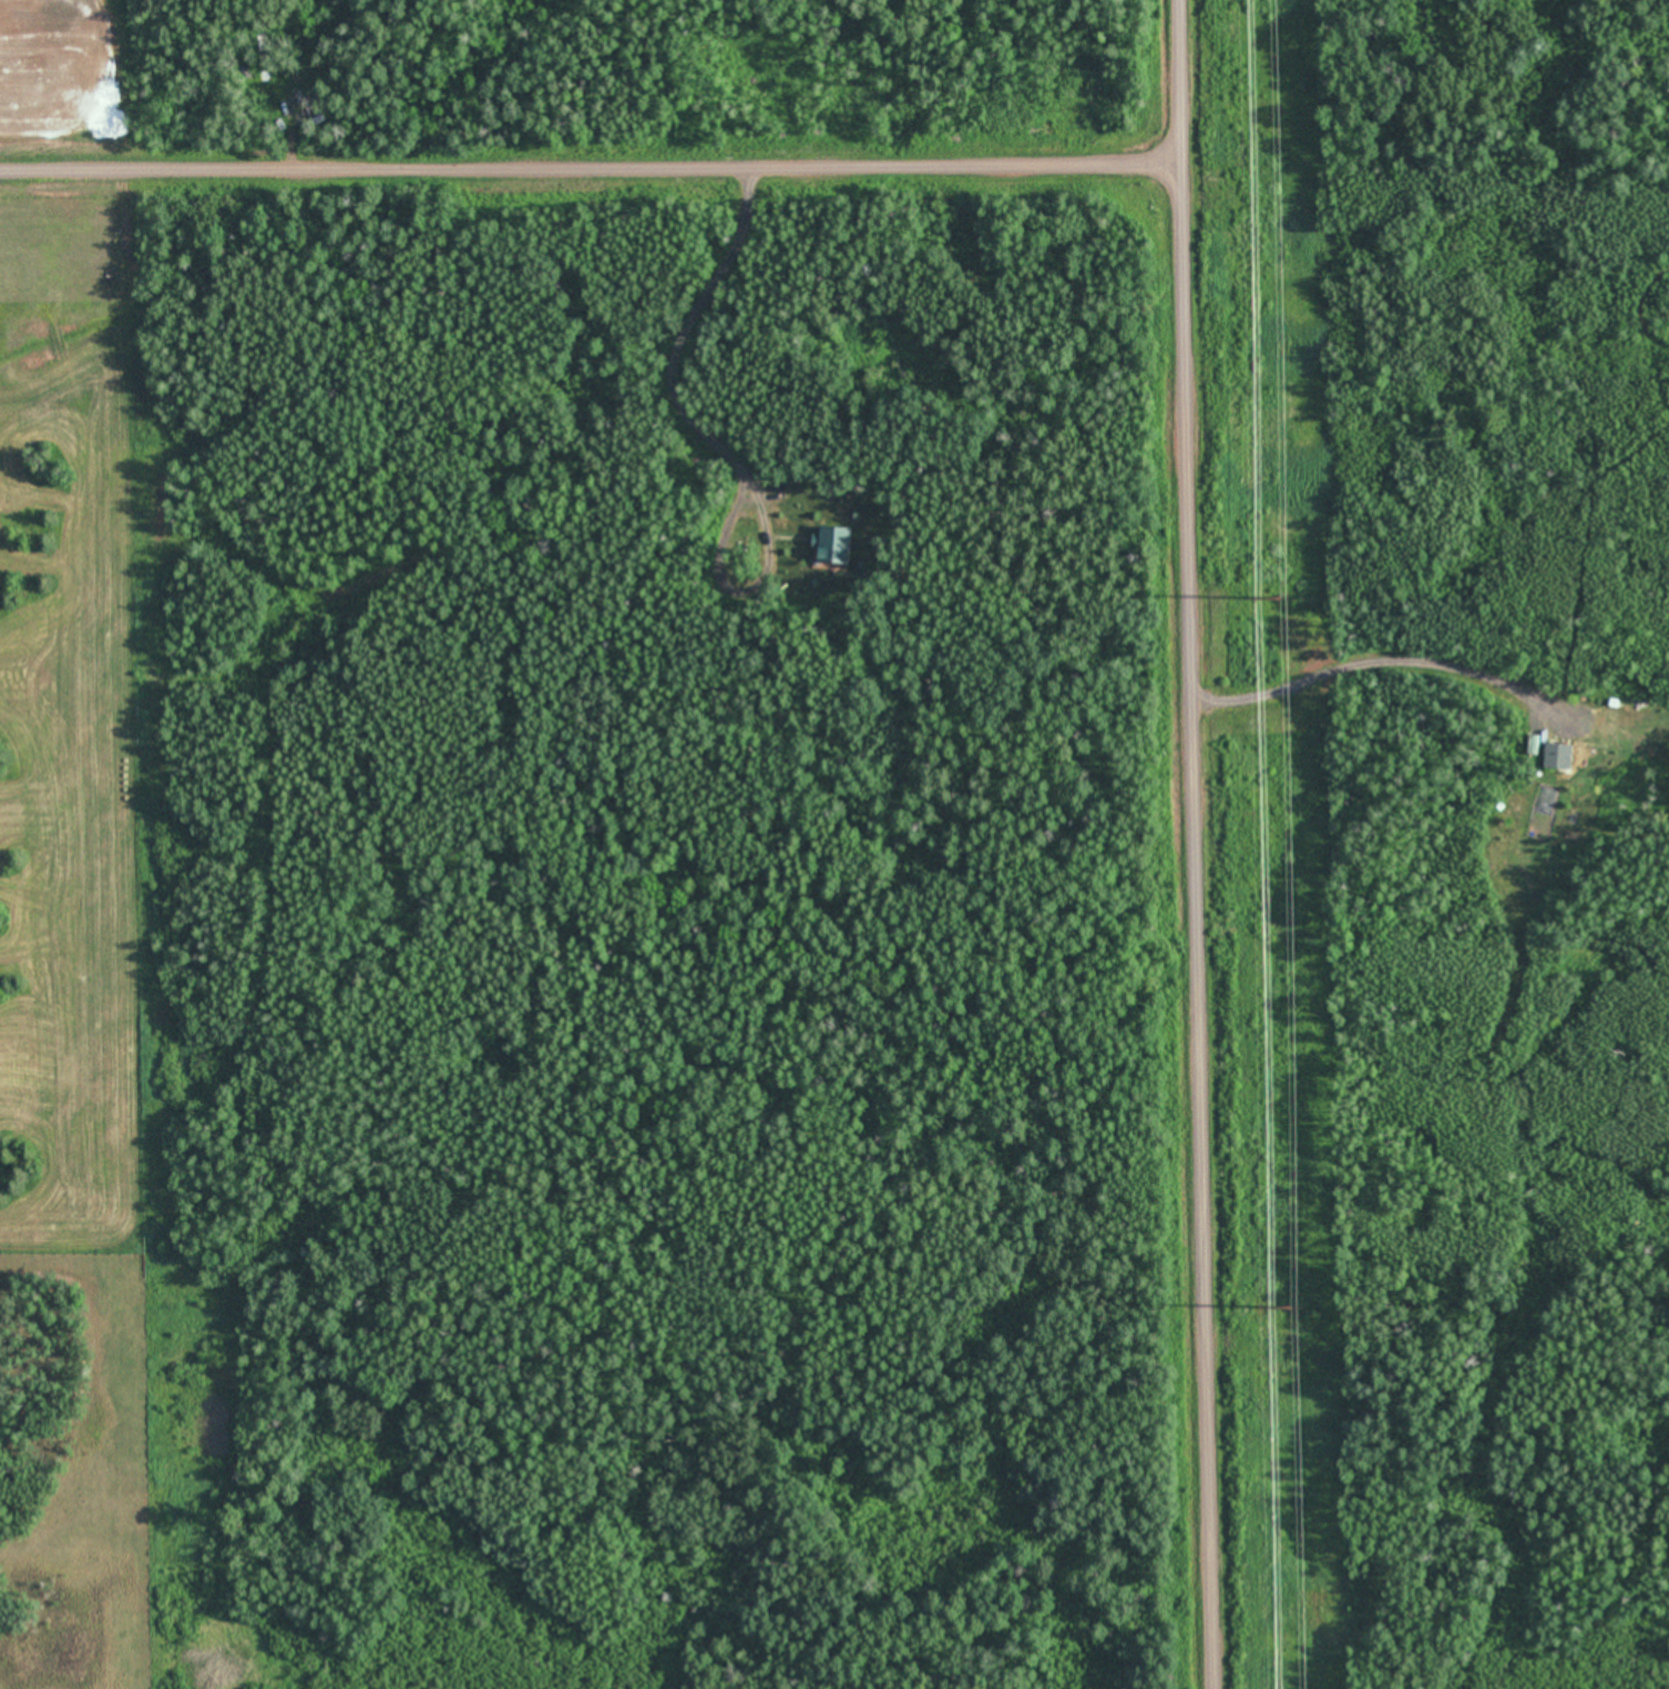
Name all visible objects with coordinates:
road: (594, 157)
building: (832, 546)
power tower: (1279, 596)
building: (1557, 757)
road: (1204, 844)
power tower: (1291, 1307)

